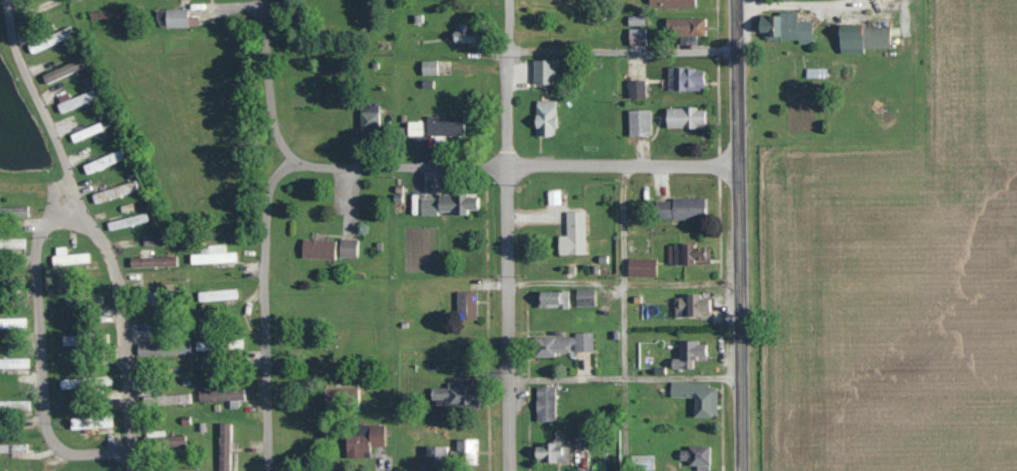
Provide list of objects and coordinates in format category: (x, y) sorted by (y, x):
building: (671, 3)
building: (171, 16)
building: (788, 25)
building: (679, 33)
building: (637, 36)
building: (862, 37)
building: (542, 70)
building: (681, 77)
road: (268, 81)
building: (636, 89)
building: (75, 101)
building: (544, 117)
building: (684, 117)
building: (369, 119)
building: (639, 122)
building: (434, 126)
building: (85, 131)
building: (102, 161)
road: (515, 166)
building: (113, 191)
building: (448, 202)
building: (680, 207)
building: (13, 213)
building: (126, 221)
road: (97, 229)
building: (574, 231)
road: (506, 235)
road: (738, 235)
building: (11, 242)
building: (328, 247)
building: (688, 252)
building: (68, 256)
building: (211, 256)
building: (640, 266)
building: (157, 288)
building: (216, 294)
building: (583, 296)
building: (552, 298)
building: (82, 300)
building: (465, 304)
building: (690, 304)
road: (264, 308)
building: (12, 321)
building: (84, 338)
building: (217, 343)
building: (363, 343)
building: (562, 343)
building: (162, 347)
road: (37, 352)
building: (13, 361)
building: (84, 381)
building: (460, 391)
building: (697, 396)
building: (169, 398)
building: (545, 402)
building: (15, 405)
building: (89, 421)
building: (168, 435)
building: (363, 441)
building: (16, 447)
building: (223, 448)
building: (468, 450)
building: (550, 450)
building: (435, 453)
building: (697, 456)
building: (641, 462)

